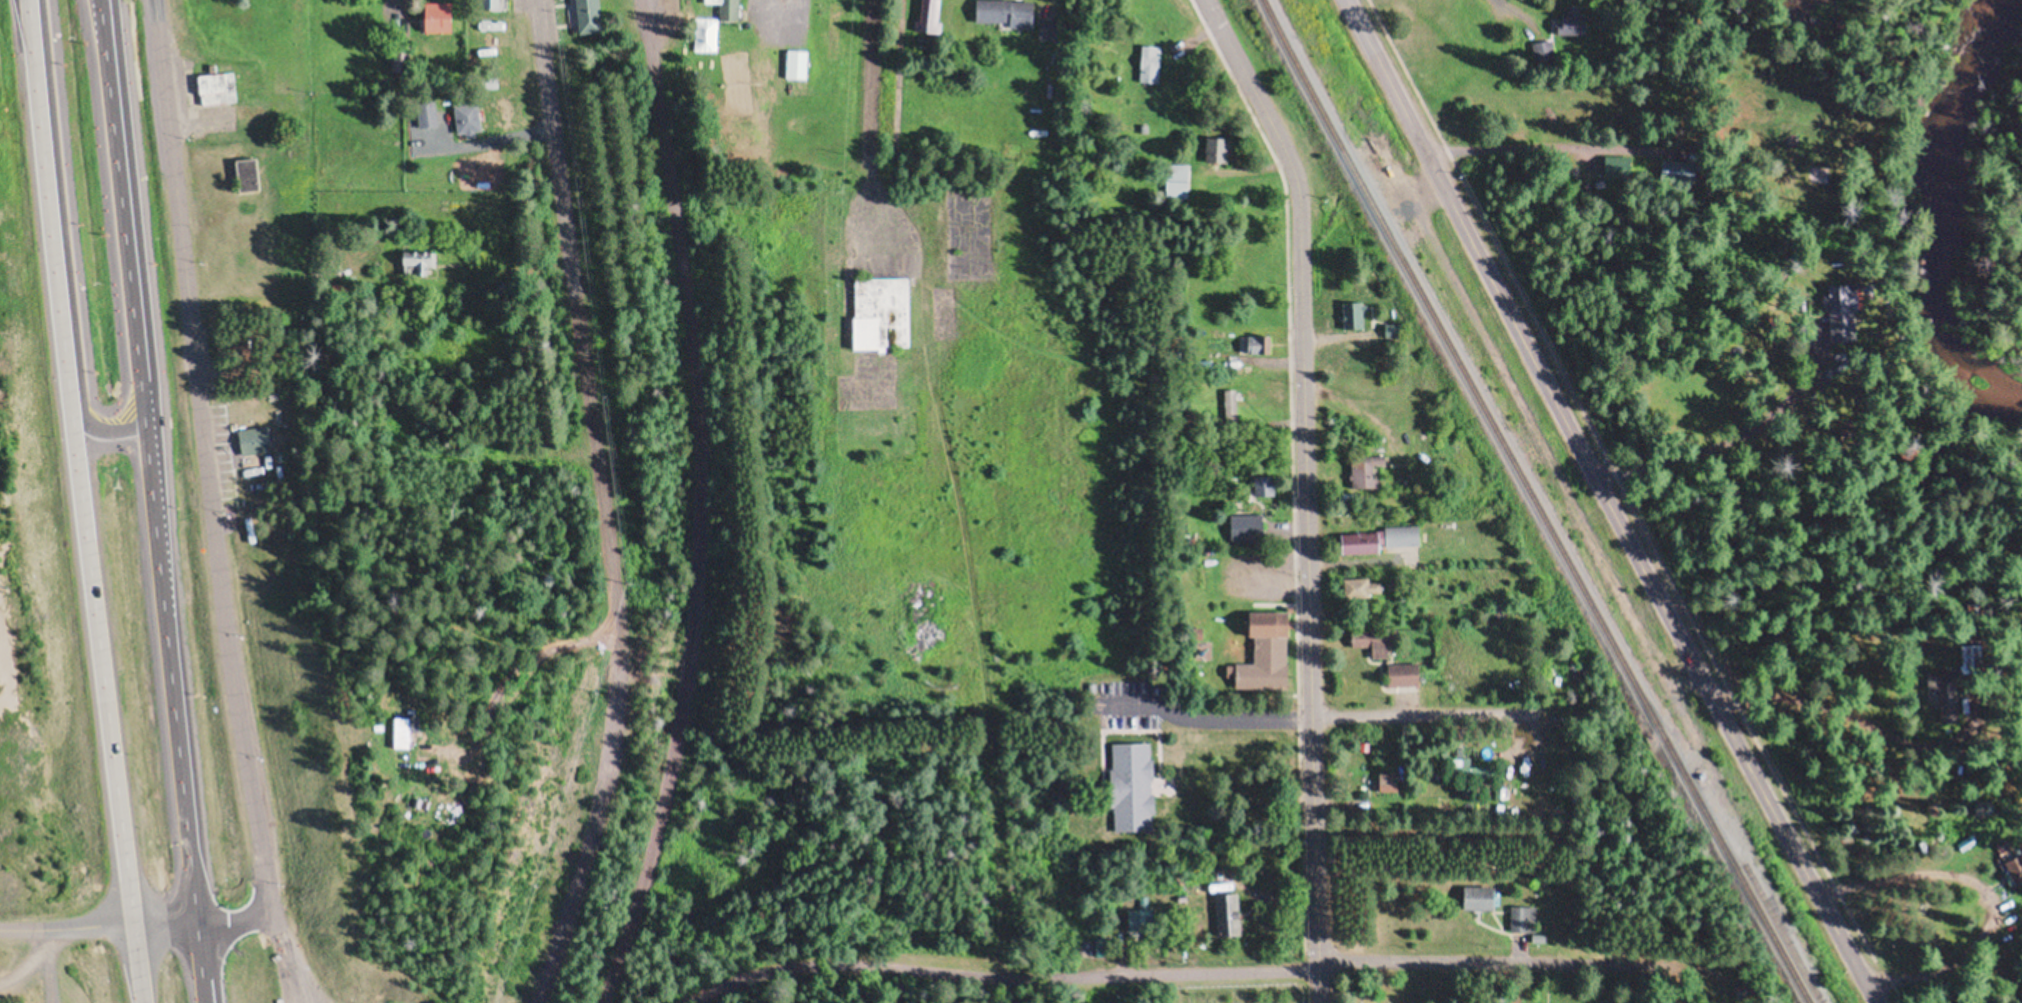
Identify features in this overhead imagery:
building: (489, 1)
river: (1784, 4)
building: (726, 8)
building: (1006, 10)
road: (1514, 12)
building: (435, 13)
building: (587, 14)
building: (926, 14)
building: (1567, 16)
building: (832, 26)
building: (400, 58)
building: (793, 59)
building: (1147, 59)
building: (217, 88)
building: (366, 105)
building: (427, 116)
road: (868, 117)
building: (469, 120)
building: (1214, 145)
road: (552, 150)
building: (1620, 168)
building: (248, 175)
building: (1173, 177)
river: (1926, 221)
building: (418, 264)
building: (878, 306)
building: (1844, 313)
building: (1354, 316)
building: (1258, 346)
building: (1230, 406)
building: (254, 442)
building: (1365, 472)
road: (1303, 491)
road: (83, 501)
road: (151, 501)
railway: (1537, 502)
road: (1607, 502)
road: (208, 504)
road: (696, 505)
building: (1249, 529)
building: (1383, 539)
building: (1359, 588)
building: (1376, 642)
building: (1268, 653)
road: (616, 656)
building: (1970, 660)
building: (1403, 676)
building: (1571, 676)
building: (1943, 693)
road: (1425, 716)
building: (406, 729)
building: (1484, 775)
building: (1131, 782)
building: (1389, 783)
building: (2014, 865)
road: (998, 871)
building: (1473, 892)
railway: (1761, 894)
building: (1481, 900)
building: (1519, 914)
building: (1228, 916)
road: (134, 921)
building: (1142, 921)
building: (1100, 948)
road: (26, 953)
road: (1494, 965)
road: (1941, 980)
road: (1005, 981)
building: (1740, 992)

